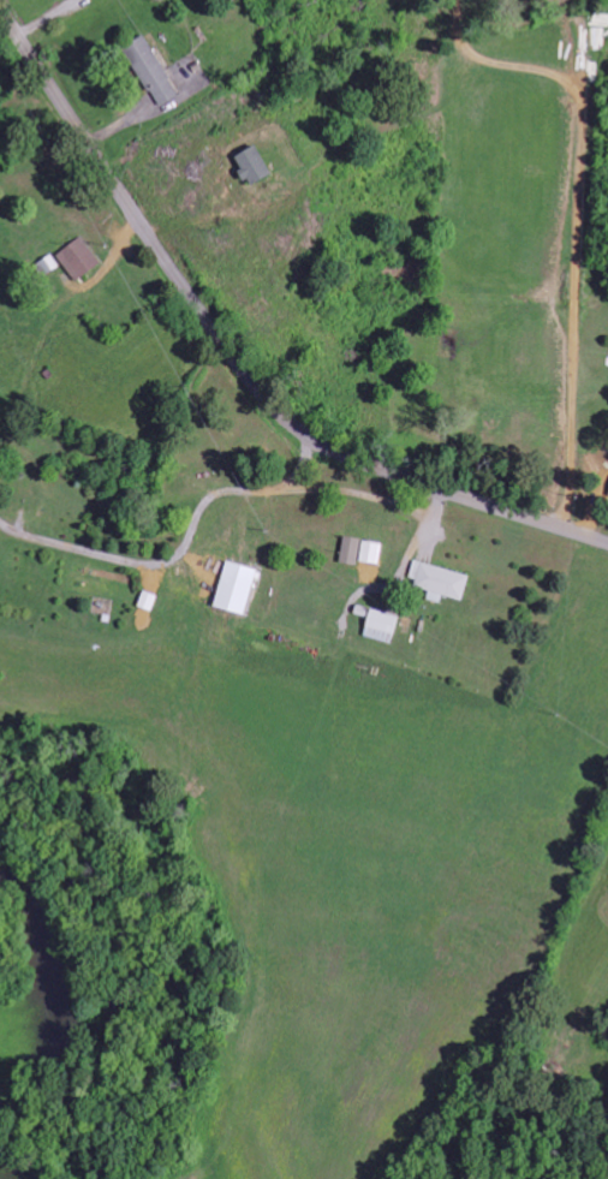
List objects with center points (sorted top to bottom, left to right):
building: (150, 71)
building: (252, 166)
building: (78, 258)
building: (48, 264)
road: (236, 357)
building: (351, 550)
building: (440, 580)
building: (236, 589)
building: (381, 626)

